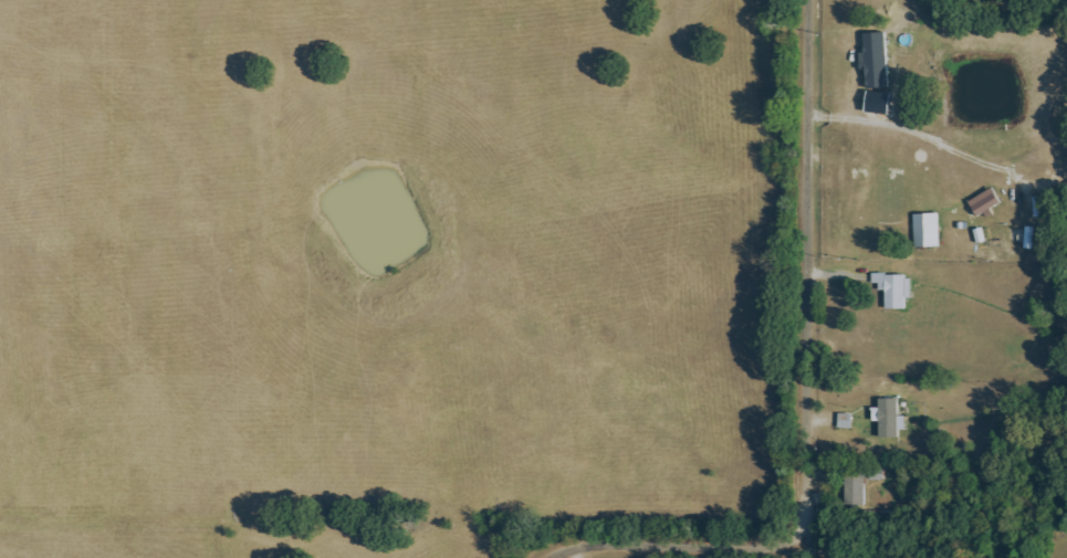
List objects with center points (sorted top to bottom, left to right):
building: (874, 59)
road: (921, 134)
building: (983, 201)
building: (925, 230)
building: (893, 289)
road: (805, 396)
building: (888, 418)
building: (854, 488)

